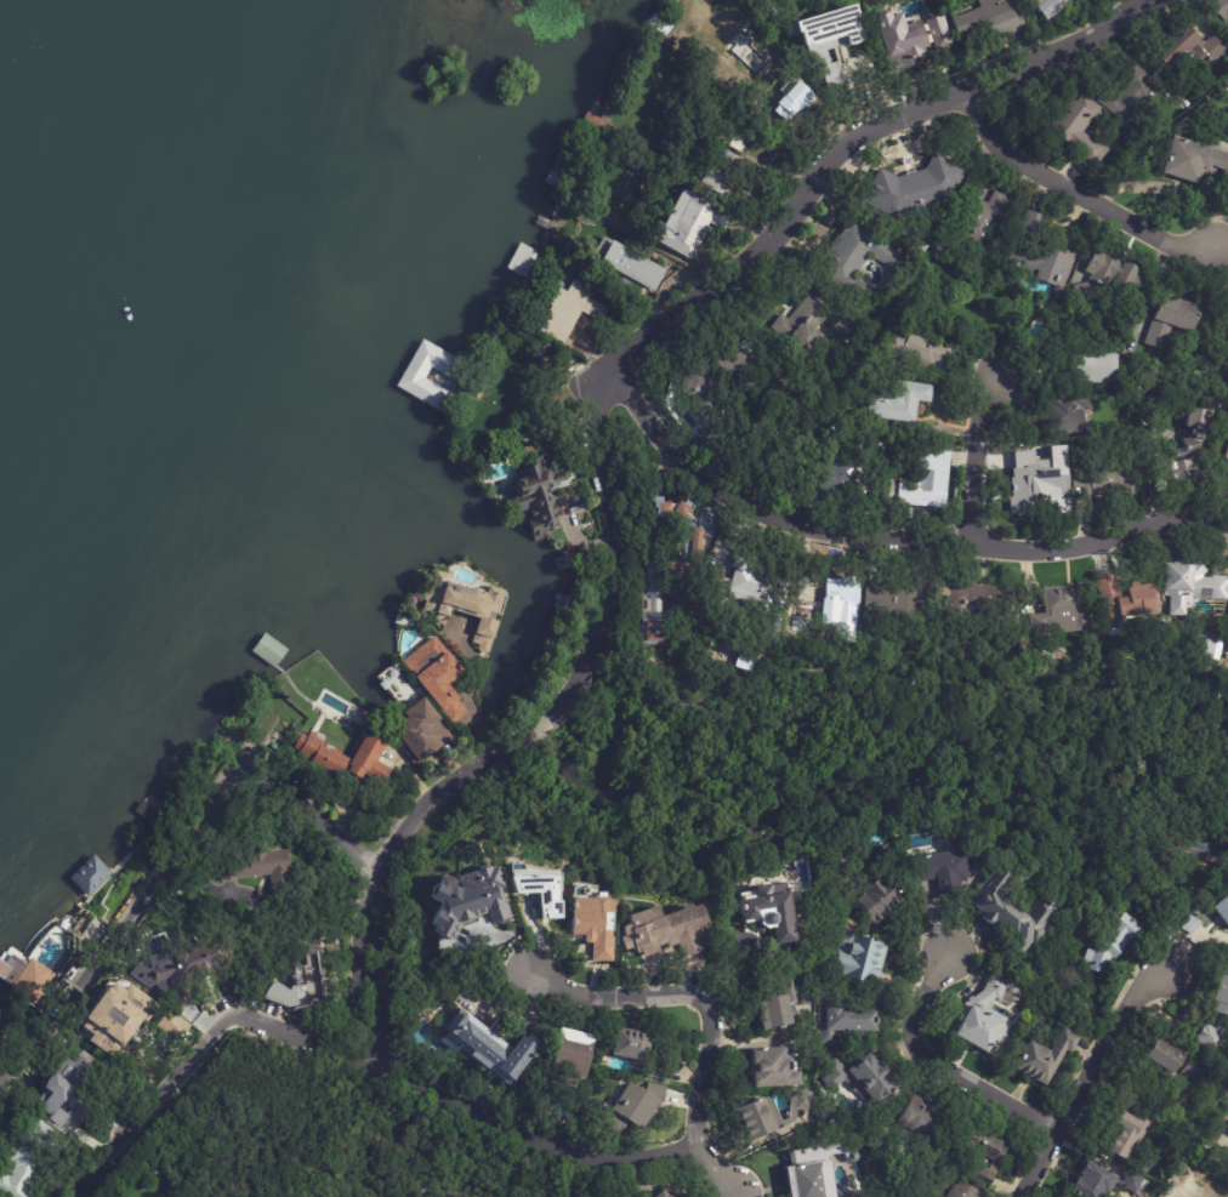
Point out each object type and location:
building: (1058, 6)
building: (1218, 7)
building: (987, 17)
building: (829, 30)
building: (916, 47)
building: (1186, 47)
building: (755, 61)
building: (1135, 97)
building: (790, 101)
building: (1075, 131)
building: (738, 133)
building: (1192, 161)
building: (723, 171)
building: (910, 188)
road: (1071, 190)
building: (570, 209)
building: (690, 220)
building: (976, 224)
building: (1041, 255)
building: (857, 261)
building: (630, 266)
building: (1112, 272)
road: (723, 280)
building: (1082, 292)
building: (574, 310)
building: (1223, 319)
building: (1165, 320)
building: (803, 326)
building: (1091, 329)
building: (847, 330)
building: (922, 352)
building: (430, 364)
building: (745, 365)
building: (1080, 366)
building: (781, 389)
building: (904, 400)
building: (706, 403)
building: (1057, 414)
building: (700, 429)
building: (790, 441)
building: (881, 454)
building: (1184, 454)
road: (974, 460)
building: (1224, 463)
building: (847, 473)
building: (1102, 481)
building: (927, 483)
building: (1040, 494)
building: (542, 498)
road: (889, 537)
building: (692, 538)
building: (1188, 586)
building: (757, 587)
building: (979, 597)
building: (1124, 597)
building: (838, 602)
building: (902, 602)
building: (471, 608)
building: (1058, 609)
building: (658, 611)
building: (407, 622)
building: (1019, 642)
building: (1227, 644)
building: (1204, 645)
building: (1227, 648)
building: (751, 659)
building: (797, 666)
building: (443, 676)
road: (470, 690)
road: (539, 722)
building: (375, 723)
building: (427, 731)
building: (349, 758)
building: (449, 762)
road: (437, 792)
road: (846, 811)
road: (176, 849)
building: (939, 868)
building: (265, 871)
building: (91, 876)
building: (1021, 882)
building: (540, 890)
building: (874, 899)
building: (467, 900)
building: (1221, 906)
building: (1176, 908)
building: (771, 910)
building: (1008, 917)
building: (597, 924)
building: (1186, 924)
building: (1165, 933)
building: (673, 935)
building: (1103, 945)
building: (855, 958)
road: (360, 969)
building: (184, 974)
building: (29, 979)
building: (306, 985)
building: (777, 1004)
road: (705, 1011)
building: (1212, 1013)
building: (978, 1016)
building: (118, 1020)
building: (842, 1021)
building: (180, 1027)
road: (200, 1047)
building: (494, 1048)
building: (573, 1053)
building: (638, 1053)
building: (1042, 1058)
building: (1172, 1060)
road: (940, 1065)
building: (771, 1068)
building: (857, 1077)
road: (1088, 1078)
building: (73, 1087)
building: (1222, 1100)
building: (635, 1107)
building: (756, 1112)
building: (1227, 1121)
building: (920, 1122)
road: (533, 1134)
building: (1128, 1134)
building: (871, 1142)
building: (978, 1151)
building: (28, 1162)
building: (807, 1172)
building: (1099, 1181)
building: (900, 1190)
building: (949, 1190)
building: (663, 1195)

